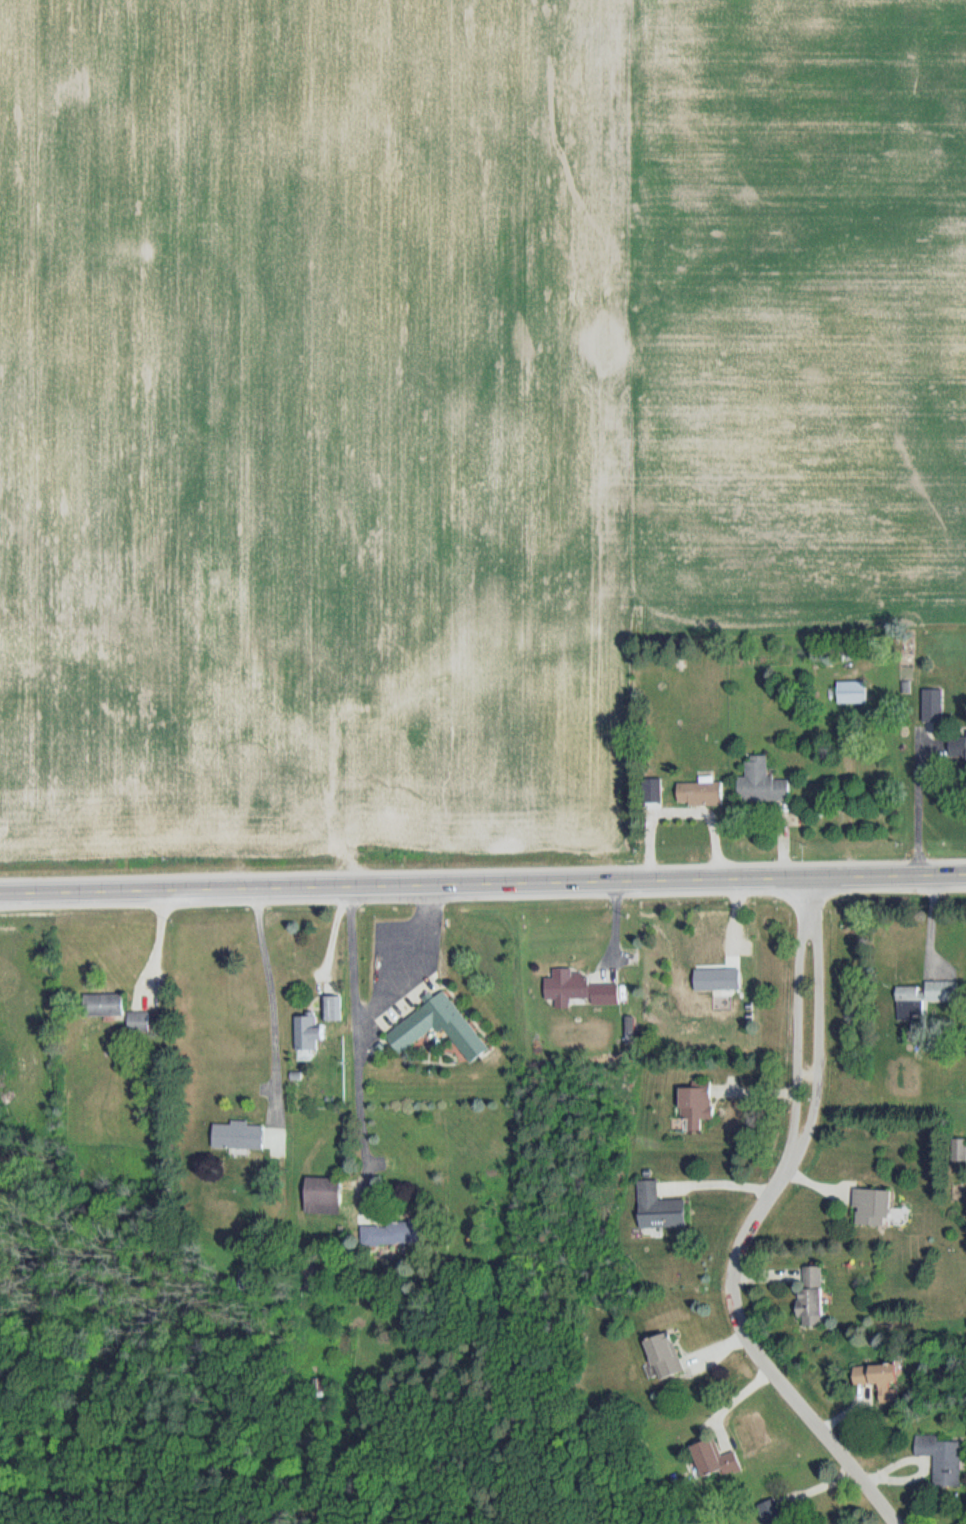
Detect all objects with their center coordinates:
building: (854, 692)
building: (934, 706)
building: (958, 748)
building: (763, 783)
building: (656, 791)
building: (702, 794)
road: (911, 808)
road: (483, 883)
building: (583, 991)
building: (928, 992)
road: (284, 998)
building: (105, 1005)
building: (334, 1005)
building: (140, 1022)
building: (440, 1028)
building: (309, 1033)
road: (356, 1042)
building: (692, 1095)
building: (240, 1136)
building: (959, 1151)
building: (325, 1196)
building: (869, 1198)
building: (654, 1200)
road: (749, 1221)
building: (386, 1234)
building: (809, 1290)
building: (663, 1347)
building: (877, 1372)
building: (713, 1451)
building: (937, 1452)
building: (770, 1508)

